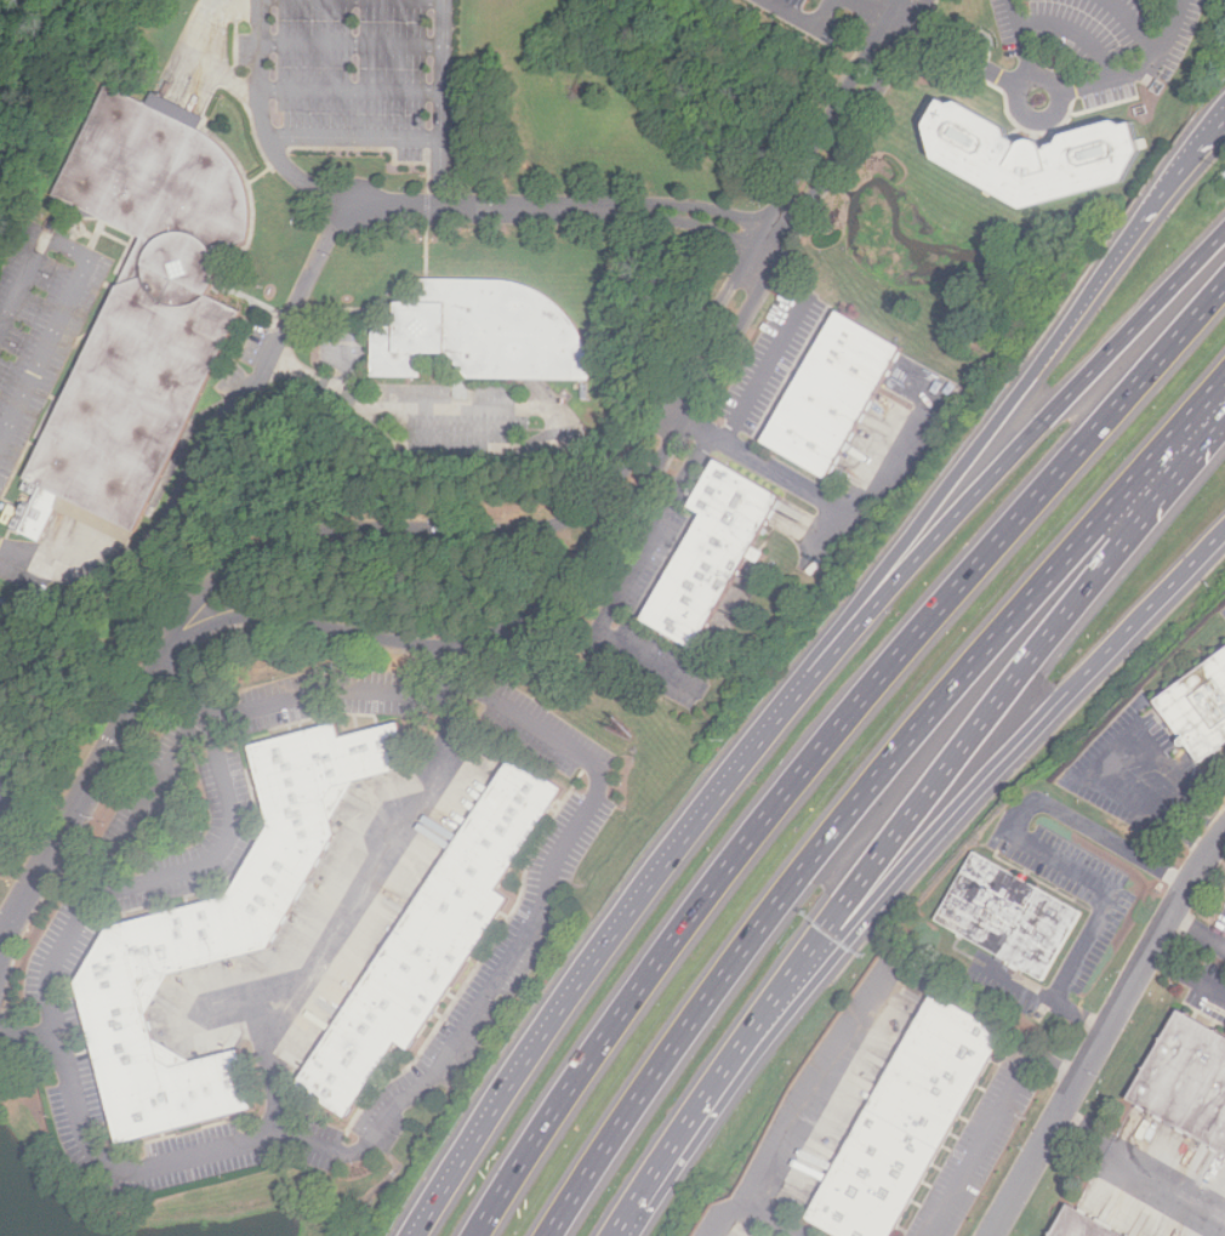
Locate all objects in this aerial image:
road: (874, 7)
parking lot: (817, 12)
road: (808, 18)
road: (1135, 22)
parking lot: (1107, 36)
road: (1025, 39)
road: (354, 41)
road: (955, 51)
road: (215, 57)
road: (1136, 68)
parking lot: (360, 75)
road: (1050, 82)
road: (354, 93)
road: (444, 102)
road: (263, 123)
road: (355, 138)
building: (1042, 146)
road: (1180, 172)
road: (570, 209)
road: (21, 283)
building: (156, 298)
road: (51, 323)
building: (484, 334)
parking lot: (44, 337)
road: (767, 366)
building: (838, 393)
road: (673, 409)
road: (207, 437)
road: (1004, 461)
road: (626, 463)
road: (965, 463)
road: (1185, 467)
road: (644, 480)
road: (827, 499)
building: (719, 551)
road: (628, 575)
road: (443, 667)
building: (1201, 707)
road: (978, 731)
road: (825, 740)
road: (1020, 742)
road: (1117, 751)
road: (861, 793)
road: (149, 794)
road: (82, 796)
road: (2, 797)
road: (1044, 849)
road: (84, 870)
road: (366, 887)
building: (235, 919)
building: (1009, 919)
building: (443, 928)
road: (1198, 929)
road: (592, 959)
road: (1187, 975)
road: (1106, 1032)
road: (29, 1037)
road: (272, 1067)
building: (1187, 1082)
road: (710, 1089)
road: (807, 1111)
building: (908, 1123)
road: (992, 1123)
road: (343, 1150)
road: (1140, 1171)
road: (733, 1220)
building: (1082, 1225)

